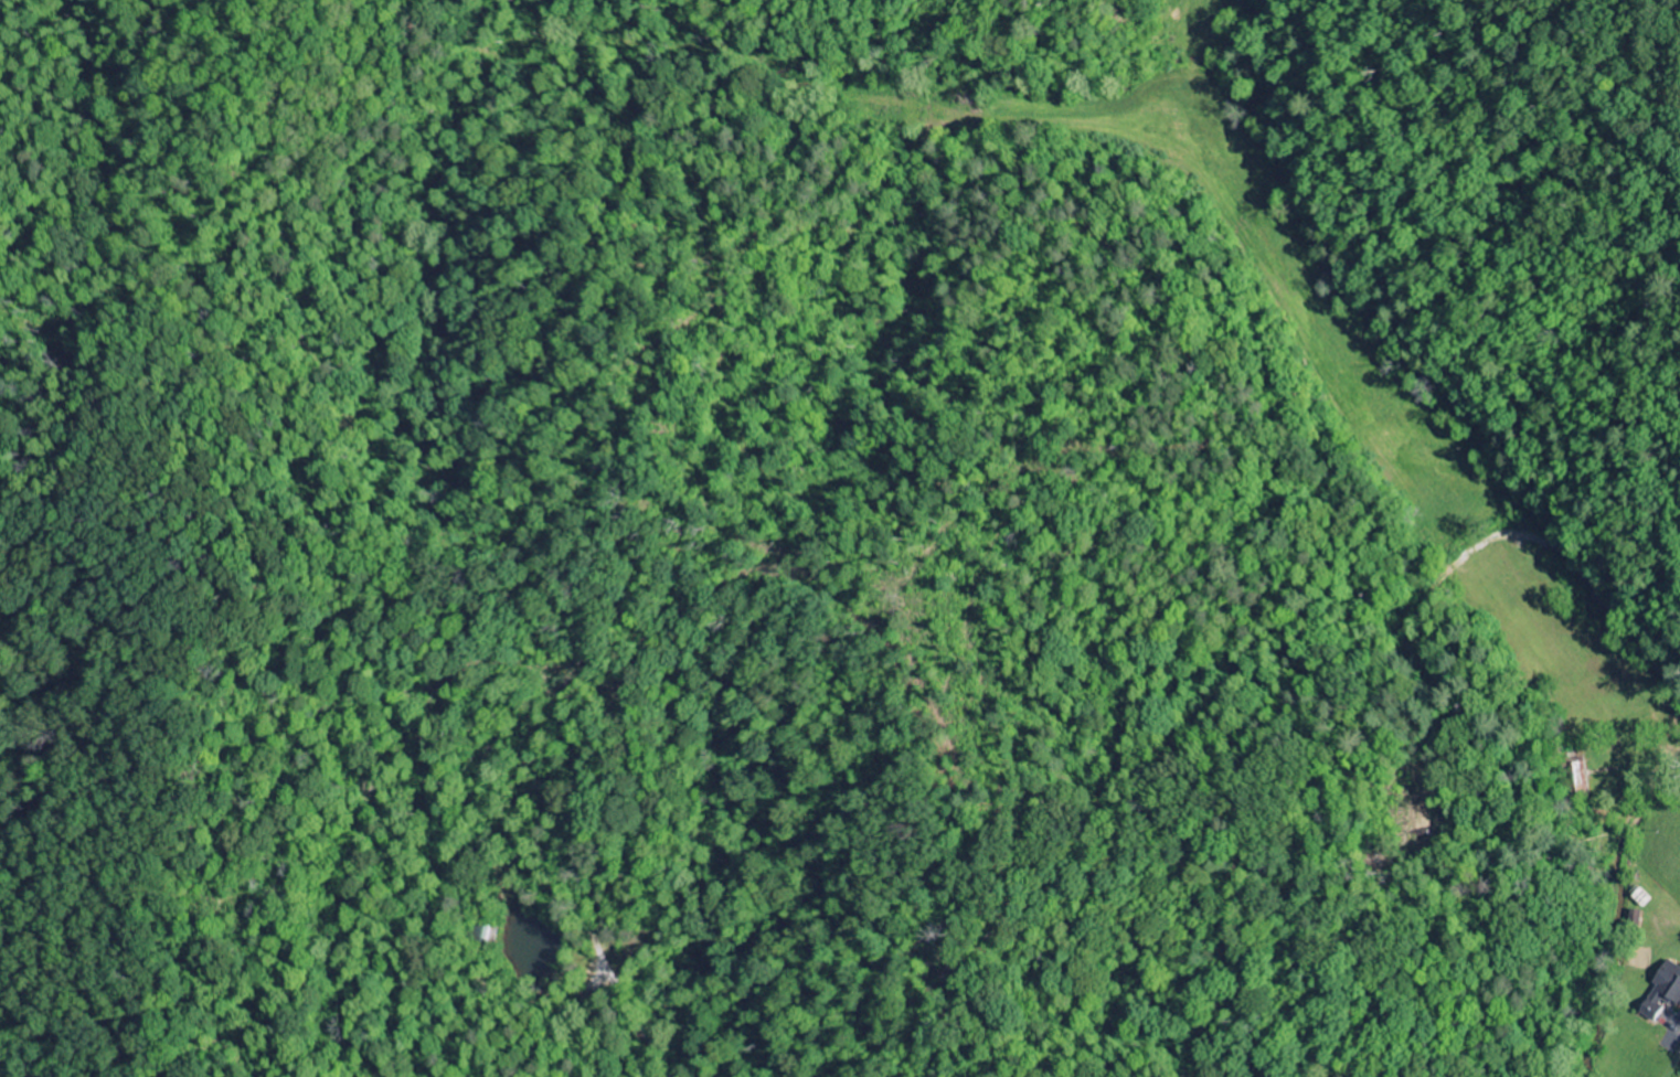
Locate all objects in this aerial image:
road: (1476, 353)
building: (1661, 990)

